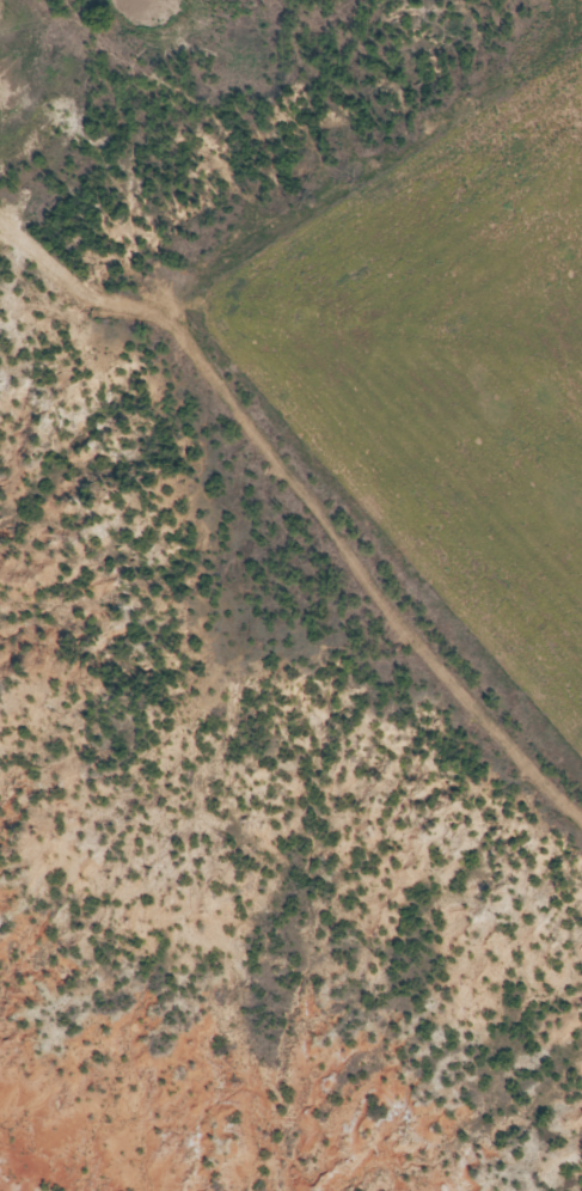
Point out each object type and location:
road: (551, 38)

